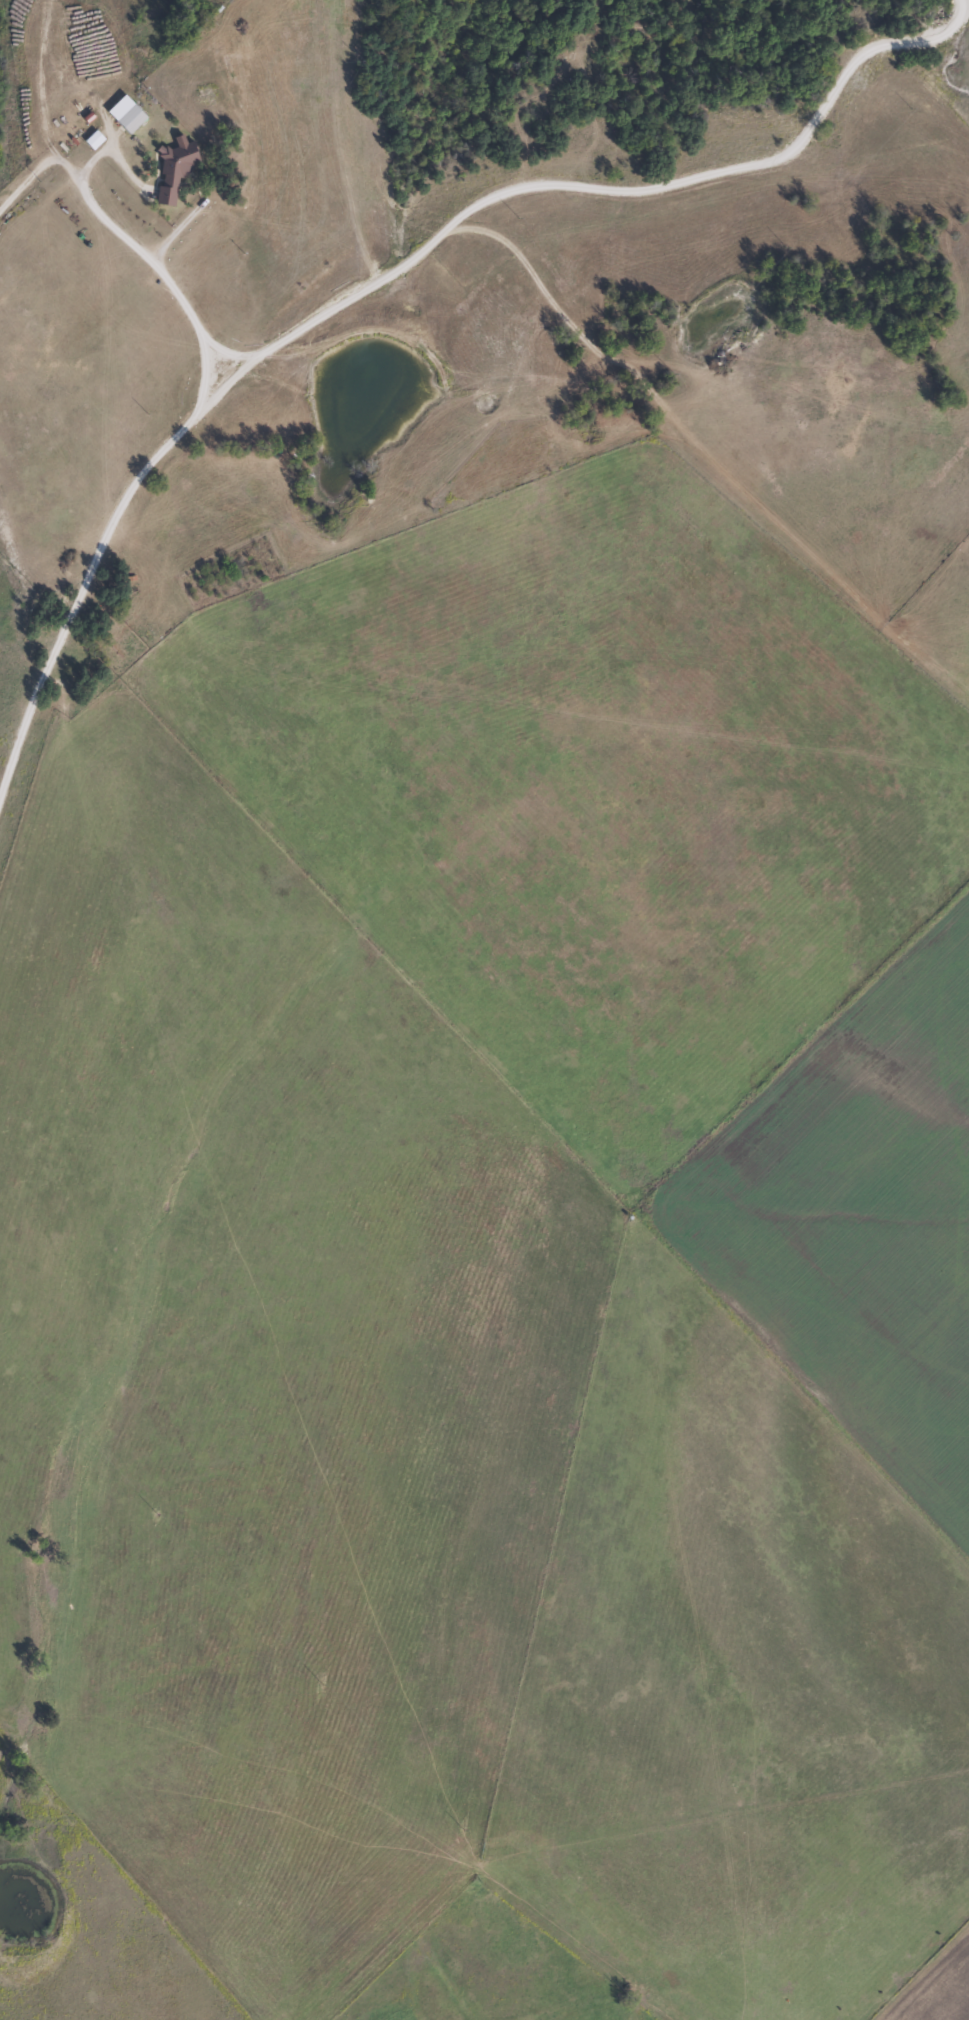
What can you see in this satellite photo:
road: (60, 105)
building: (130, 118)
building: (173, 171)
road: (178, 267)
road: (335, 290)
road: (109, 335)

